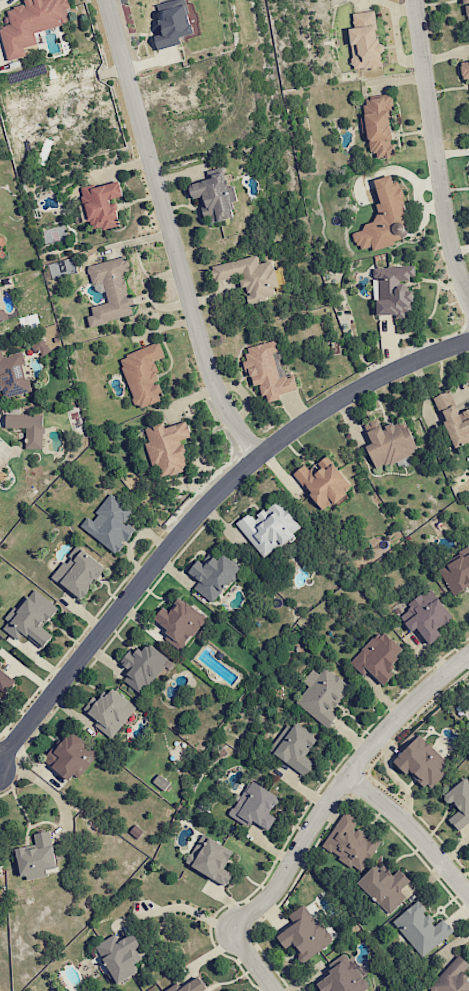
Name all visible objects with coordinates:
building: (466, 9)
building: (31, 23)
building: (172, 23)
building: (365, 41)
building: (464, 69)
building: (378, 125)
road: (435, 152)
building: (214, 195)
building: (102, 204)
building: (385, 218)
road: (170, 232)
building: (249, 277)
building: (393, 290)
building: (110, 291)
building: (0, 316)
building: (40, 346)
building: (267, 371)
building: (13, 374)
building: (143, 374)
building: (453, 419)
building: (28, 428)
building: (390, 442)
building: (167, 447)
building: (323, 482)
road: (201, 506)
building: (110, 523)
building: (269, 527)
building: (78, 572)
building: (456, 573)
building: (213, 575)
building: (426, 615)
building: (31, 618)
building: (179, 621)
building: (378, 657)
building: (1, 663)
building: (143, 667)
building: (5, 681)
building: (468, 687)
building: (322, 694)
building: (110, 711)
building: (296, 749)
building: (71, 756)
building: (422, 762)
building: (161, 782)
building: (459, 804)
building: (255, 806)
road: (319, 815)
road: (414, 829)
building: (350, 842)
building: (37, 857)
building: (210, 859)
building: (384, 887)
road: (183, 909)
building: (421, 928)
building: (304, 933)
building: (120, 956)
building: (344, 975)
building: (452, 977)
building: (188, 985)

